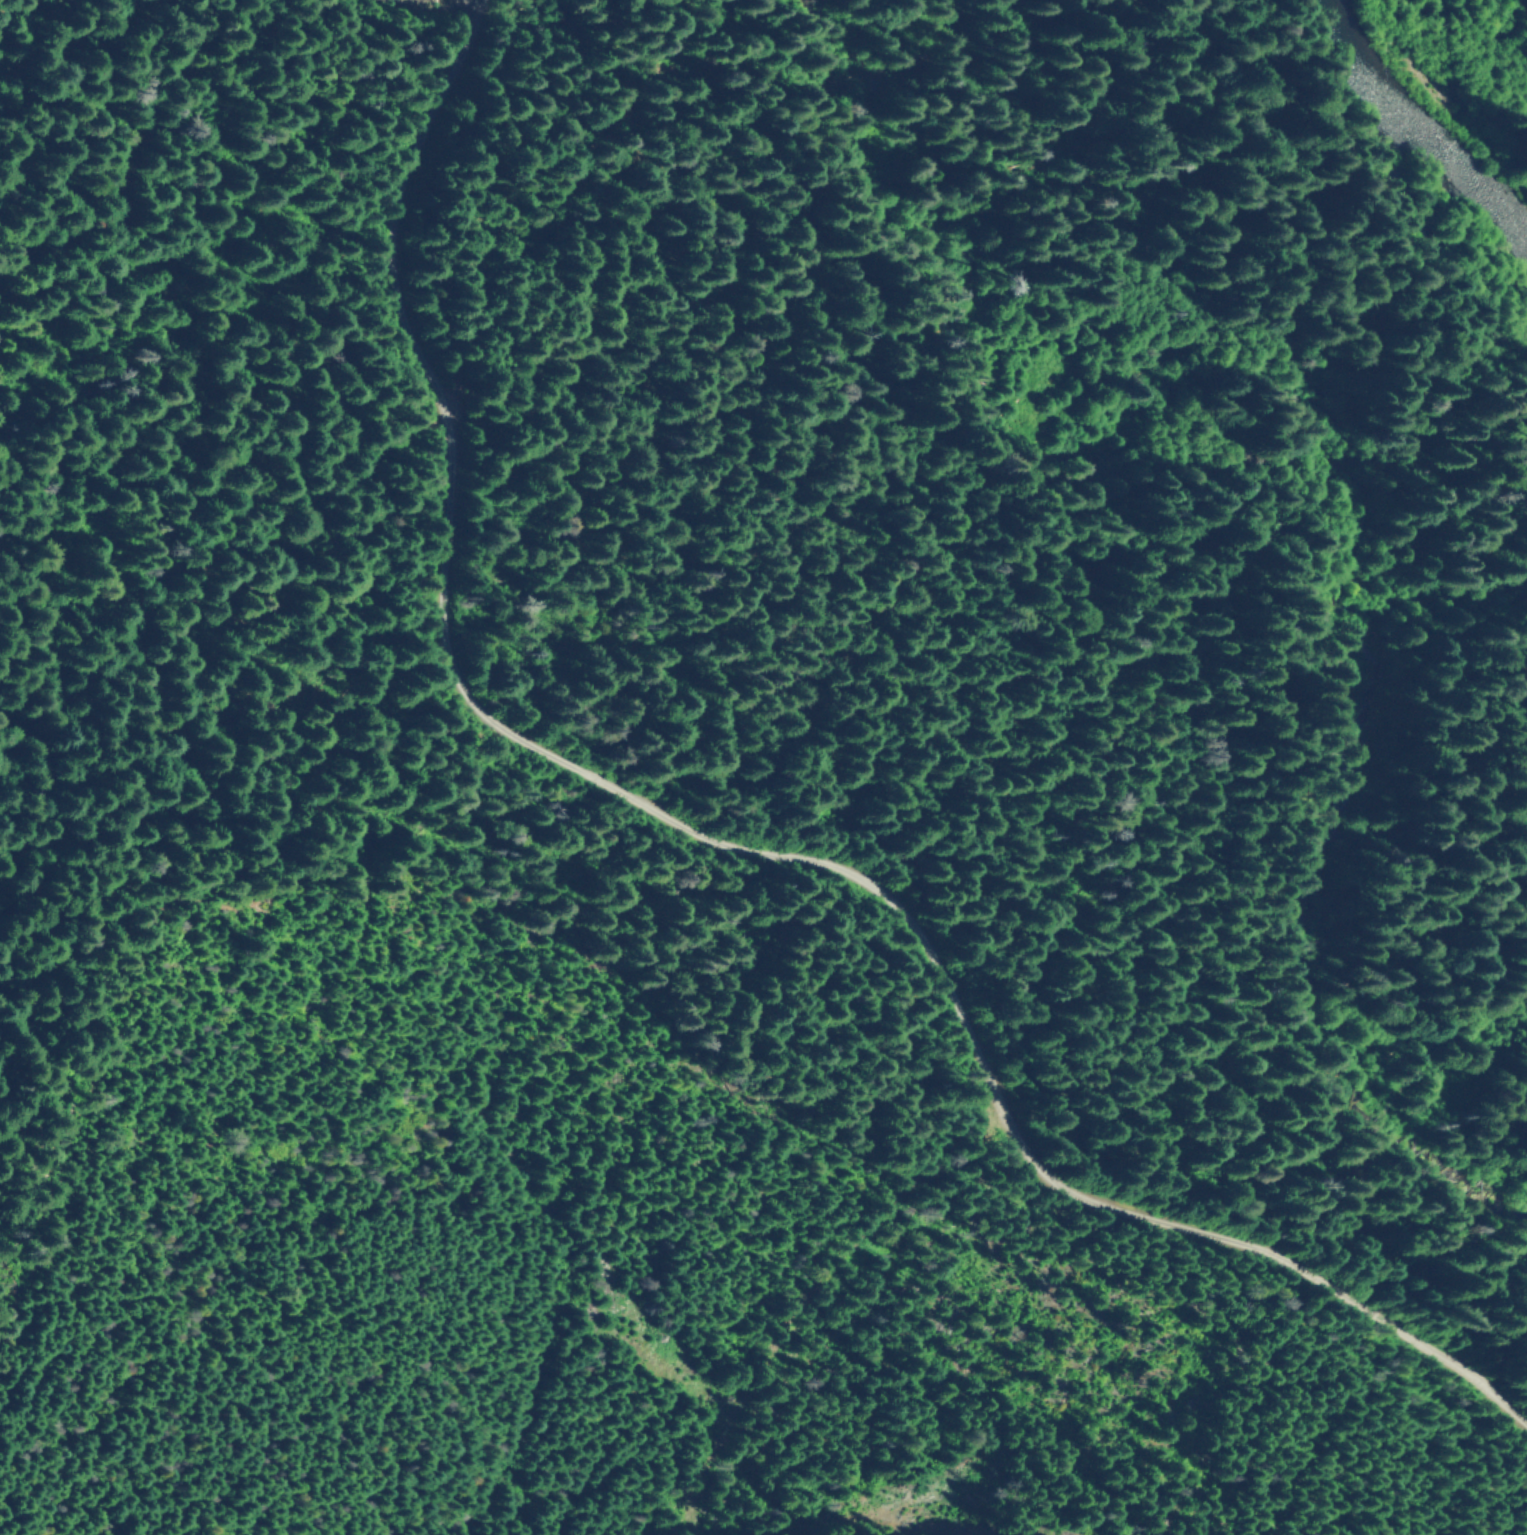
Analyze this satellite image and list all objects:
river: (1455, 84)
road: (744, 833)

